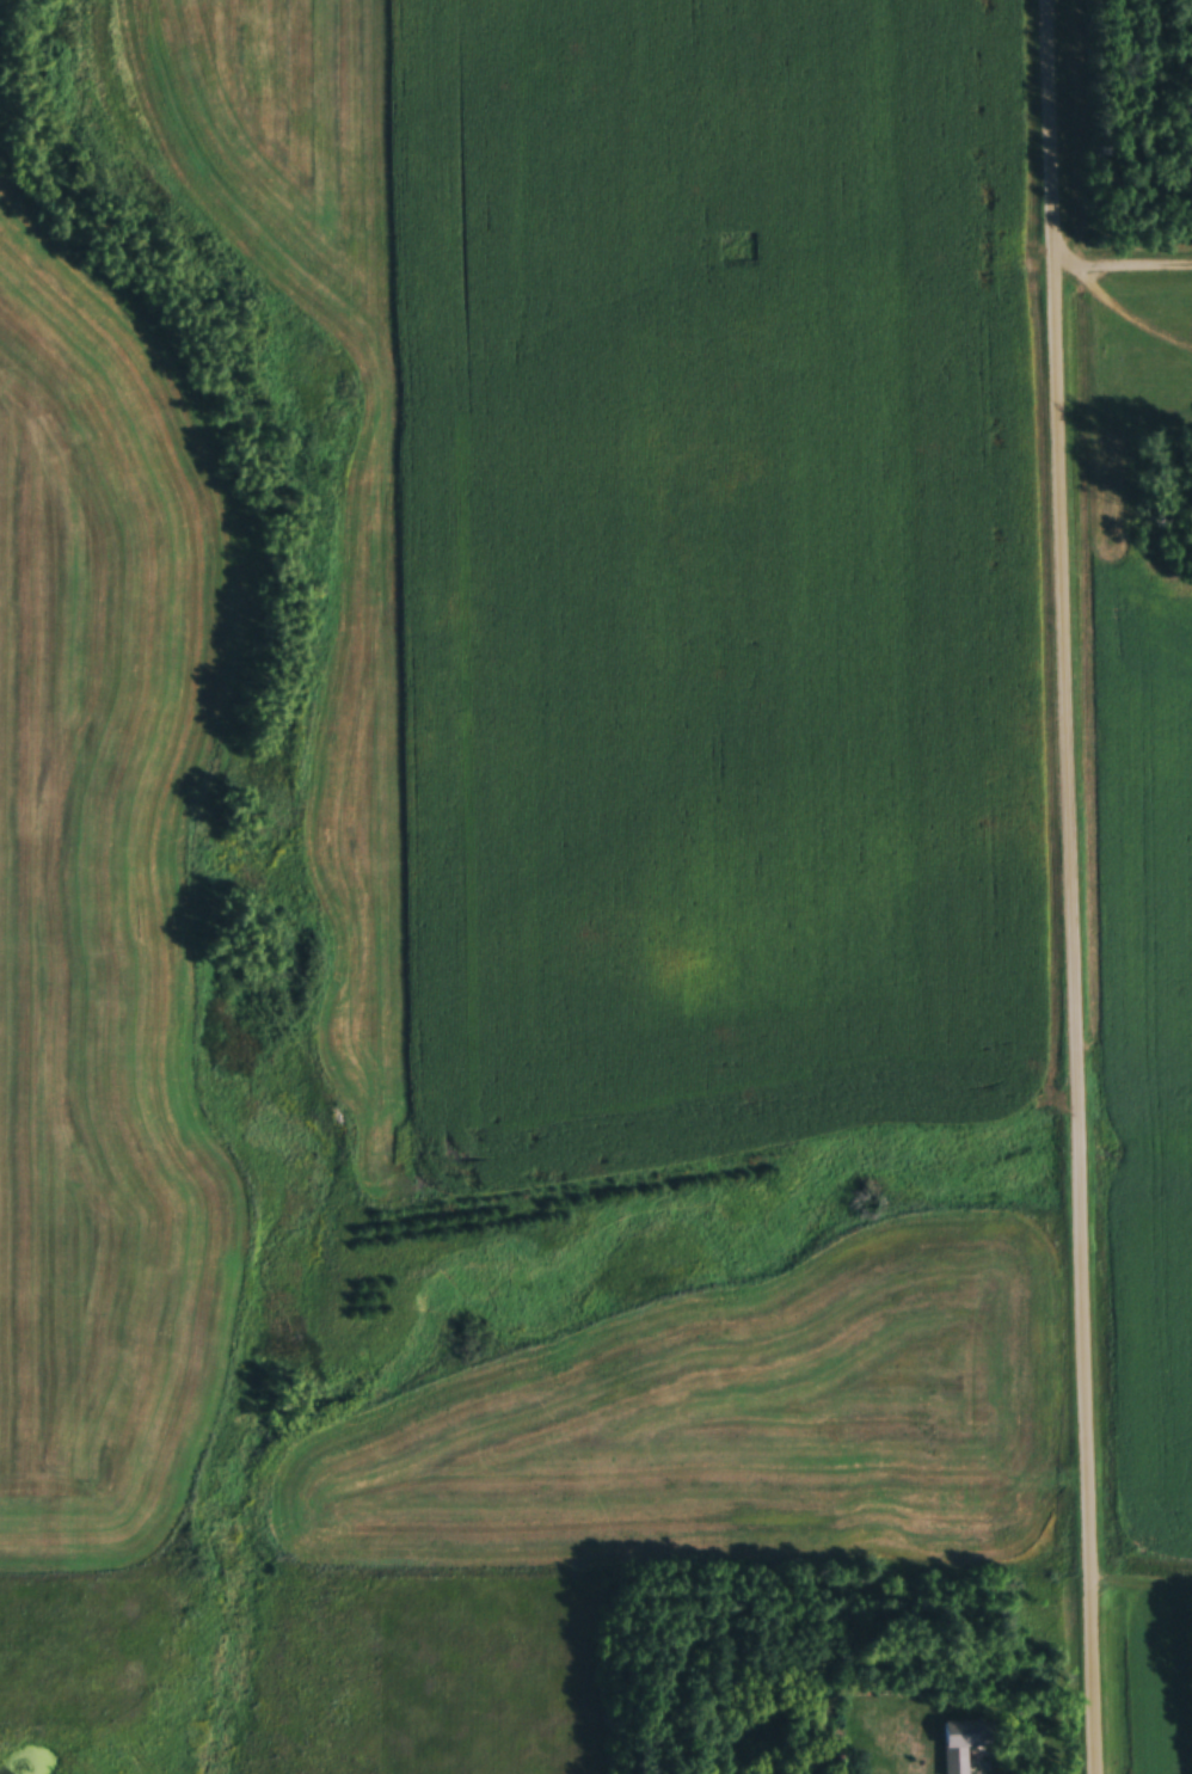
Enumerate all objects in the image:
road: (1124, 258)
road: (1074, 886)
building: (964, 1743)

